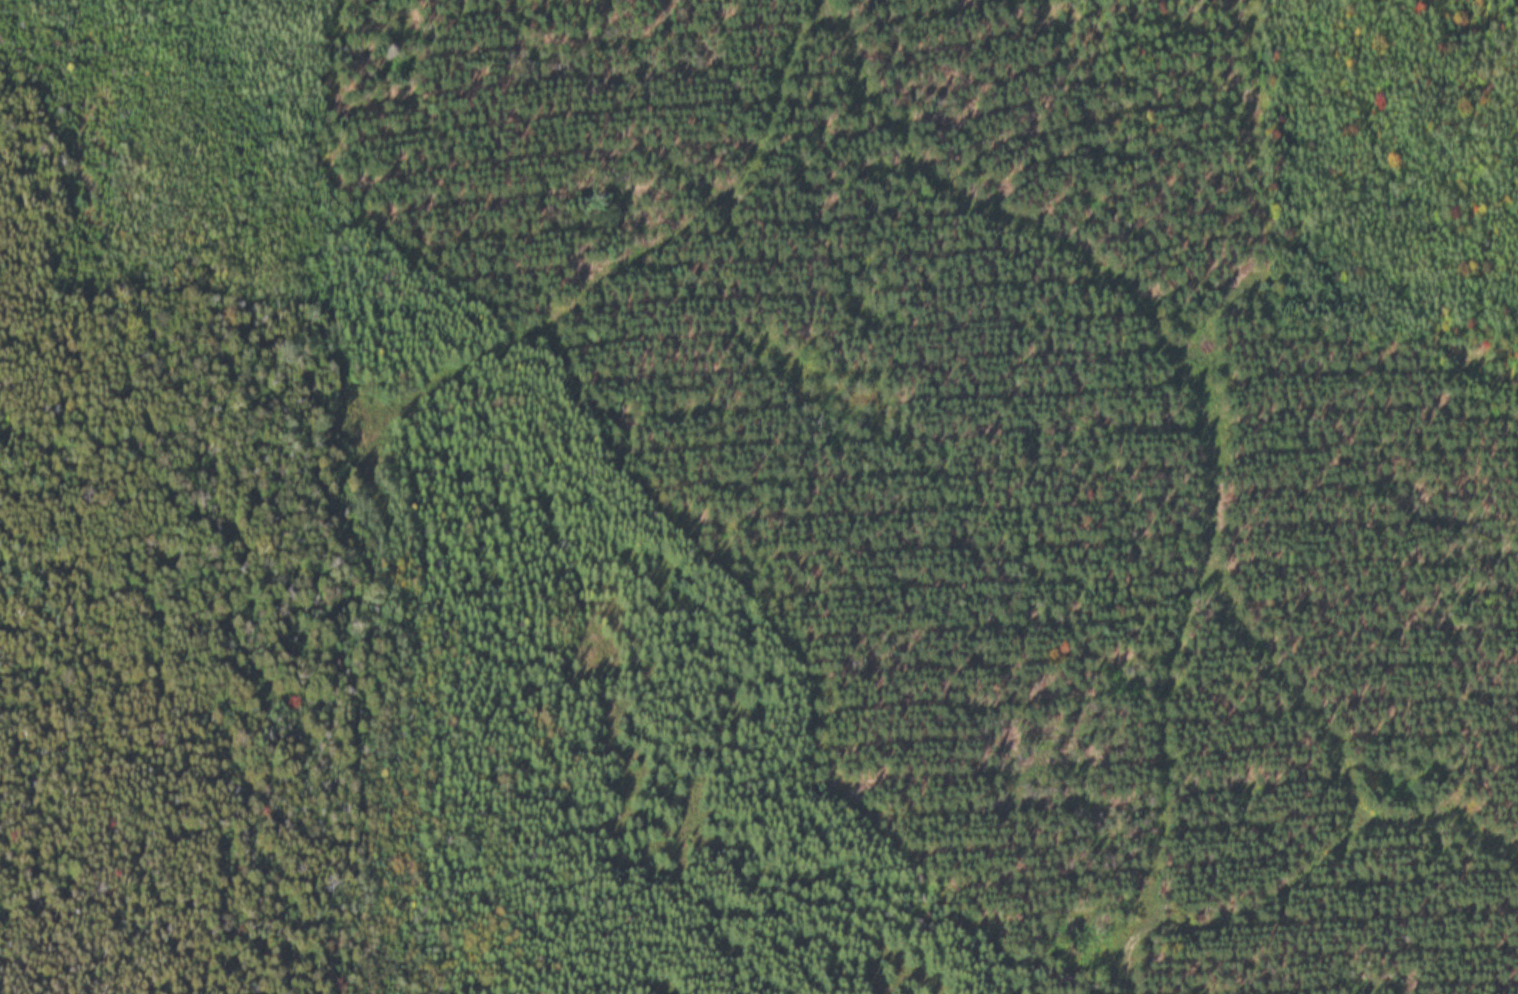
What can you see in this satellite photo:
road: (644, 253)
road: (1203, 430)

